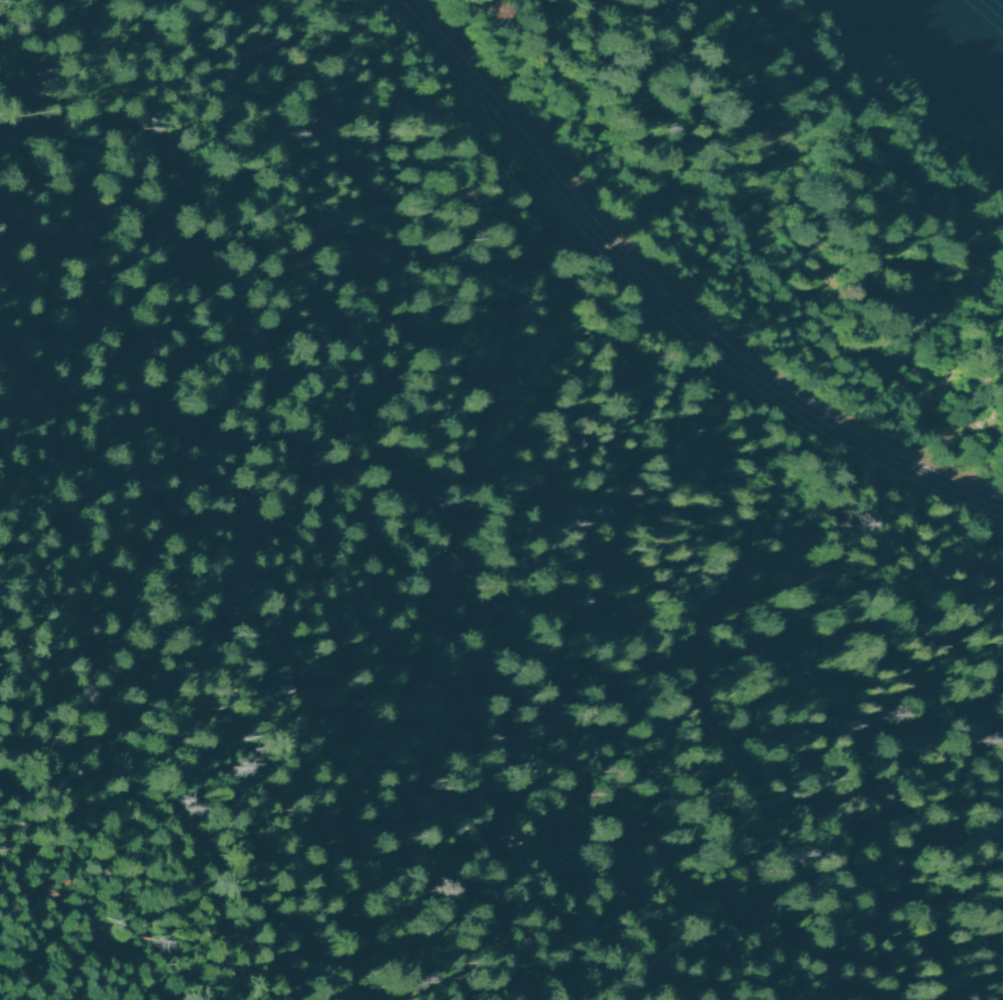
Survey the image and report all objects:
river: (972, 5)
road: (862, 124)
road: (655, 304)

